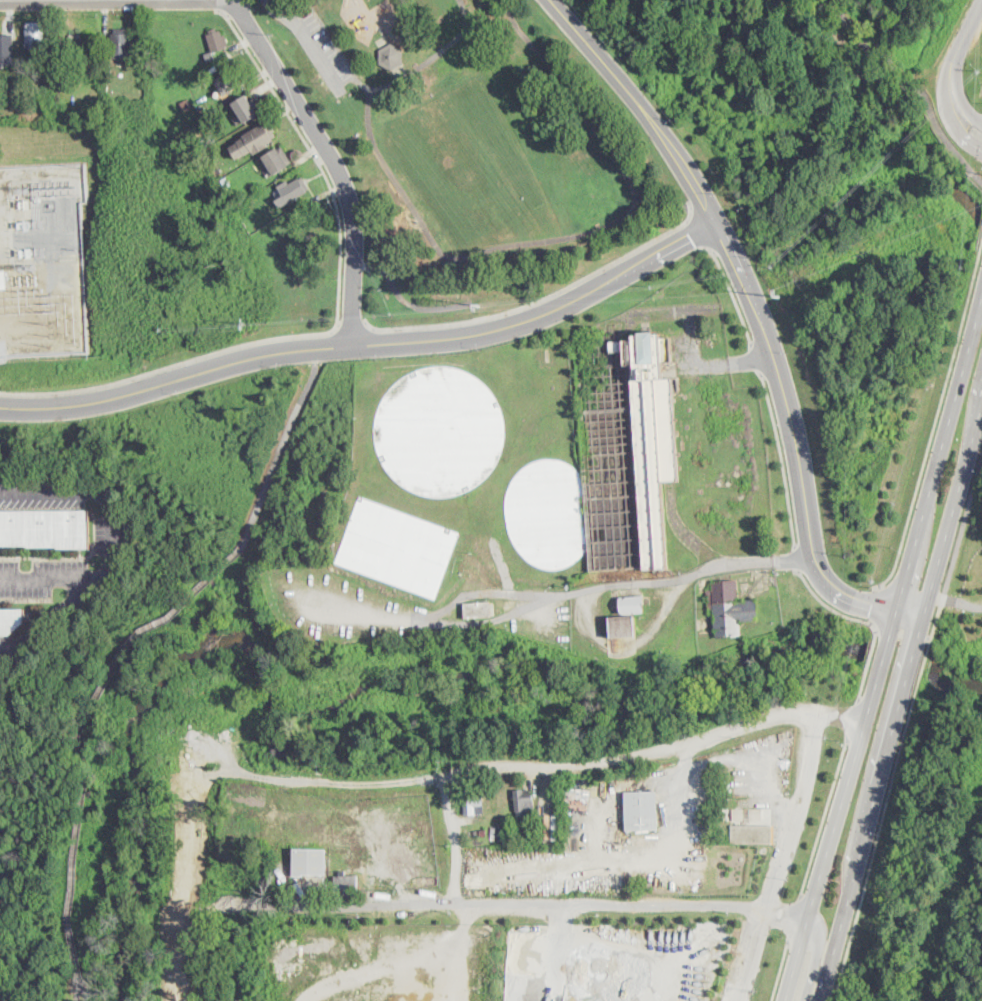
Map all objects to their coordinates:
road: (44, 0)
building: (36, 36)
building: (218, 40)
building: (121, 43)
road: (310, 43)
parking lot: (321, 48)
building: (82, 49)
building: (7, 51)
building: (209, 56)
building: (392, 57)
road: (418, 67)
building: (214, 69)
road: (953, 70)
building: (77, 81)
building: (228, 83)
road: (912, 86)
road: (572, 96)
building: (188, 109)
building: (245, 111)
building: (211, 137)
building: (254, 139)
park: (472, 149)
road: (313, 154)
road: (332, 159)
building: (278, 164)
building: (294, 189)
road: (663, 203)
road: (690, 204)
building: (288, 217)
road: (696, 233)
building: (242, 236)
road: (405, 249)
road: (455, 256)
power substation: (42, 260)
building: (3, 279)
road: (730, 290)
power tower: (780, 296)
road: (406, 300)
road: (539, 300)
power tower: (481, 308)
road: (759, 316)
road: (351, 322)
power tower: (245, 325)
road: (333, 328)
power tower: (51, 334)
road: (368, 343)
road: (323, 346)
road: (756, 357)
road: (716, 363)
road: (165, 368)
road: (935, 422)
building: (439, 430)
storage tank: (439, 430)
building: (627, 449)
road: (279, 454)
road: (780, 457)
road: (98, 493)
building: (547, 512)
storage tank: (547, 512)
road: (962, 527)
building: (45, 529)
building: (397, 546)
storage tank: (397, 546)
road: (796, 556)
road: (936, 575)
road: (49, 579)
road: (559, 594)
road: (876, 603)
road: (962, 603)
building: (633, 605)
road: (828, 605)
building: (730, 609)
building: (477, 610)
building: (11, 620)
road: (49, 620)
road: (489, 620)
building: (623, 627)
road: (903, 631)
road: (886, 652)
road: (870, 660)
road: (853, 716)
road: (80, 731)
building: (278, 747)
road: (552, 767)
road: (808, 770)
road: (886, 799)
building: (523, 803)
building: (474, 804)
building: (641, 810)
building: (575, 812)
building: (747, 813)
road: (824, 814)
building: (752, 834)
road: (456, 837)
building: (520, 840)
building: (309, 861)
road: (781, 868)
road: (856, 870)
building: (346, 884)
road: (550, 900)
road: (794, 916)
road: (622, 953)
road: (750, 956)
road: (814, 961)
road: (779, 969)
road: (78, 989)

